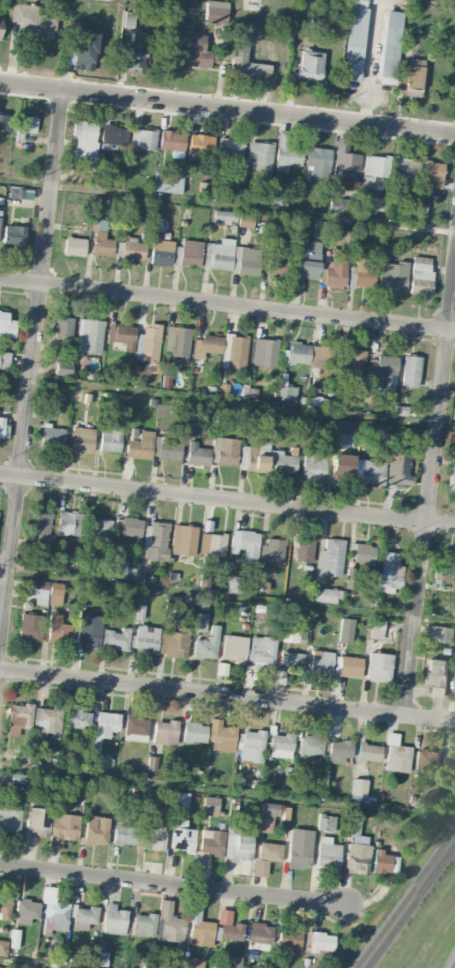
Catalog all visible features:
building: (215, 12)
building: (31, 22)
building: (0, 28)
building: (354, 39)
building: (390, 47)
building: (84, 49)
building: (194, 52)
building: (135, 56)
building: (245, 62)
road: (370, 62)
building: (310, 65)
building: (413, 77)
road: (227, 109)
building: (5, 122)
building: (24, 126)
building: (114, 135)
building: (86, 139)
building: (143, 139)
building: (172, 141)
building: (199, 146)
building: (230, 148)
building: (286, 152)
building: (261, 157)
building: (344, 160)
building: (318, 161)
building: (406, 170)
building: (375, 172)
building: (431, 174)
building: (168, 183)
building: (21, 195)
building: (340, 205)
building: (225, 216)
building: (246, 220)
building: (14, 236)
building: (102, 244)
building: (130, 244)
building: (74, 246)
building: (161, 252)
building: (190, 253)
building: (219, 254)
building: (248, 261)
building: (304, 265)
building: (276, 266)
building: (364, 268)
building: (333, 273)
building: (393, 275)
building: (421, 276)
road: (227, 304)
building: (6, 325)
building: (62, 328)
building: (89, 336)
building: (122, 336)
building: (177, 341)
building: (148, 343)
building: (207, 345)
building: (234, 352)
building: (264, 352)
building: (298, 353)
building: (322, 357)
building: (4, 360)
building: (354, 360)
road: (32, 362)
building: (63, 368)
building: (383, 371)
building: (410, 371)
building: (287, 393)
building: (454, 414)
building: (343, 426)
building: (3, 427)
building: (52, 435)
building: (110, 439)
building: (82, 440)
building: (140, 446)
building: (167, 449)
building: (227, 452)
building: (197, 455)
building: (285, 463)
building: (258, 464)
building: (343, 464)
building: (399, 464)
building: (314, 467)
building: (370, 472)
building: (451, 475)
road: (430, 500)
road: (227, 501)
building: (68, 524)
building: (128, 526)
building: (40, 528)
building: (99, 529)
building: (183, 540)
building: (155, 541)
building: (245, 544)
building: (212, 545)
building: (272, 550)
building: (303, 550)
building: (361, 553)
building: (330, 558)
building: (388, 572)
building: (350, 578)
building: (234, 584)
building: (47, 593)
building: (325, 595)
building: (199, 622)
building: (30, 627)
building: (58, 629)
building: (376, 629)
building: (88, 630)
building: (345, 630)
building: (442, 634)
building: (293, 635)
building: (115, 639)
building: (173, 643)
building: (206, 645)
building: (233, 648)
building: (261, 650)
building: (291, 660)
building: (321, 662)
building: (349, 666)
building: (379, 666)
building: (437, 678)
building: (454, 686)
road: (227, 695)
building: (18, 717)
building: (47, 719)
building: (78, 719)
building: (135, 729)
building: (165, 732)
building: (194, 732)
building: (102, 734)
building: (221, 737)
building: (281, 745)
building: (311, 745)
building: (252, 746)
building: (339, 751)
building: (369, 752)
building: (396, 755)
building: (427, 760)
building: (450, 762)
building: (358, 787)
building: (180, 799)
building: (210, 806)
building: (285, 813)
building: (9, 818)
building: (37, 821)
building: (326, 823)
building: (61, 826)
building: (96, 830)
building: (124, 835)
building: (152, 836)
building: (183, 840)
building: (212, 842)
building: (356, 847)
building: (238, 848)
building: (299, 849)
building: (269, 851)
building: (327, 853)
building: (381, 862)
building: (259, 868)
road: (173, 885)
railway: (404, 899)
railway: (410, 907)
building: (4, 908)
building: (27, 911)
building: (85, 915)
building: (114, 920)
building: (143, 925)
building: (228, 926)
building: (199, 927)
building: (260, 933)
building: (14, 938)
building: (290, 940)
building: (321, 942)
building: (3, 948)
building: (192, 963)
building: (0, 967)
building: (221, 967)

